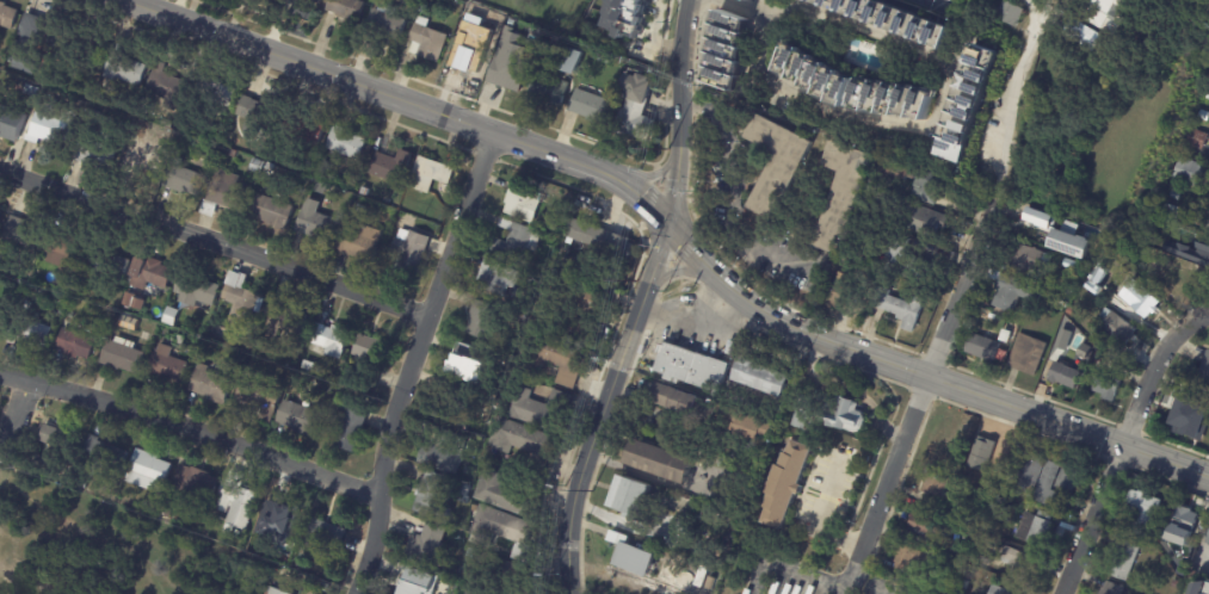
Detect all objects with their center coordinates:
building: (751, 0)
building: (315, 1)
road: (938, 2)
building: (347, 8)
building: (424, 10)
building: (1104, 12)
building: (1011, 13)
building: (7, 16)
building: (881, 19)
building: (385, 23)
building: (621, 31)
building: (1087, 37)
building: (428, 41)
building: (858, 42)
building: (30, 43)
building: (727, 50)
building: (1110, 57)
building: (70, 58)
building: (468, 58)
building: (610, 58)
building: (572, 61)
building: (124, 72)
building: (816, 73)
building: (510, 75)
building: (168, 86)
building: (548, 91)
building: (216, 92)
building: (60, 95)
building: (86, 97)
building: (893, 99)
building: (962, 103)
building: (84, 106)
building: (592, 107)
building: (639, 110)
road: (843, 110)
road: (1012, 112)
building: (259, 117)
building: (10, 125)
building: (50, 129)
building: (303, 129)
building: (1197, 137)
building: (345, 143)
power tower: (665, 150)
building: (232, 154)
building: (137, 155)
building: (94, 157)
building: (777, 159)
building: (391, 167)
building: (263, 168)
building: (1191, 171)
building: (427, 177)
building: (183, 179)
building: (929, 181)
building: (364, 192)
building: (843, 192)
building: (226, 196)
road: (733, 200)
building: (446, 202)
building: (523, 203)
building: (360, 210)
building: (415, 210)
building: (1172, 211)
building: (272, 212)
building: (424, 214)
building: (1041, 216)
building: (921, 218)
building: (316, 224)
traffic signals: (666, 224)
building: (1165, 225)
building: (557, 228)
parking lot: (755, 229)
road: (672, 230)
building: (20, 235)
building: (598, 236)
building: (518, 240)
road: (214, 241)
building: (1156, 241)
building: (362, 242)
building: (1074, 242)
building: (411, 252)
building: (63, 255)
building: (1104, 255)
building: (903, 260)
building: (1030, 260)
building: (111, 266)
building: (1174, 273)
building: (150, 274)
building: (500, 278)
power tower: (634, 279)
building: (1094, 279)
building: (1071, 289)
building: (196, 291)
building: (845, 292)
building: (1014, 292)
building: (1139, 297)
road: (950, 298)
road: (640, 299)
building: (131, 301)
building: (1066, 301)
building: (240, 302)
building: (525, 304)
building: (903, 308)
building: (337, 310)
building: (581, 311)
building: (171, 317)
building: (348, 317)
building: (482, 318)
building: (283, 321)
building: (128, 323)
building: (1031, 323)
building: (1115, 330)
building: (30, 334)
building: (1006, 335)
building: (329, 340)
building: (75, 346)
building: (211, 346)
building: (983, 346)
building: (643, 347)
building: (371, 351)
building: (1028, 353)
building: (555, 355)
building: (122, 358)
road: (411, 360)
building: (468, 363)
building: (167, 366)
building: (691, 366)
building: (1205, 371)
building: (1065, 375)
building: (765, 377)
building: (210, 386)
building: (1106, 388)
building: (327, 389)
building: (259, 397)
building: (462, 403)
building: (537, 406)
building: (806, 409)
building: (715, 412)
building: (1201, 413)
building: (846, 414)
road: (14, 419)
building: (298, 420)
building: (350, 428)
road: (189, 433)
building: (54, 434)
building: (523, 440)
road: (1121, 443)
building: (106, 453)
building: (446, 453)
building: (983, 453)
building: (58, 454)
building: (938, 459)
road: (1, 460)
building: (42, 462)
building: (662, 462)
building: (147, 471)
building: (1026, 472)
road: (888, 475)
road: (647, 476)
building: (470, 477)
building: (958, 482)
building: (79, 483)
building: (789, 484)
building: (937, 484)
building: (1061, 484)
building: (196, 485)
building: (986, 487)
power tower: (588, 491)
building: (465, 494)
building: (507, 494)
building: (434, 496)
building: (633, 497)
building: (236, 502)
building: (476, 508)
building: (1145, 511)
road: (602, 515)
building: (282, 516)
road: (818, 520)
building: (992, 521)
building: (1185, 524)
building: (1037, 527)
building: (925, 528)
building: (505, 530)
building: (325, 539)
building: (1208, 540)
building: (432, 545)
park: (110, 551)
building: (635, 556)
building: (912, 558)
building: (987, 559)
building: (1125, 559)
building: (304, 561)
building: (1020, 564)
building: (1182, 565)
road: (791, 570)
building: (502, 573)
building: (1193, 573)
building: (681, 575)
building: (417, 582)
road: (849, 583)
building: (1176, 583)
road: (875, 584)
building: (963, 584)
building: (326, 587)
building: (1114, 588)
building: (278, 589)
building: (1008, 589)
building: (479, 593)

